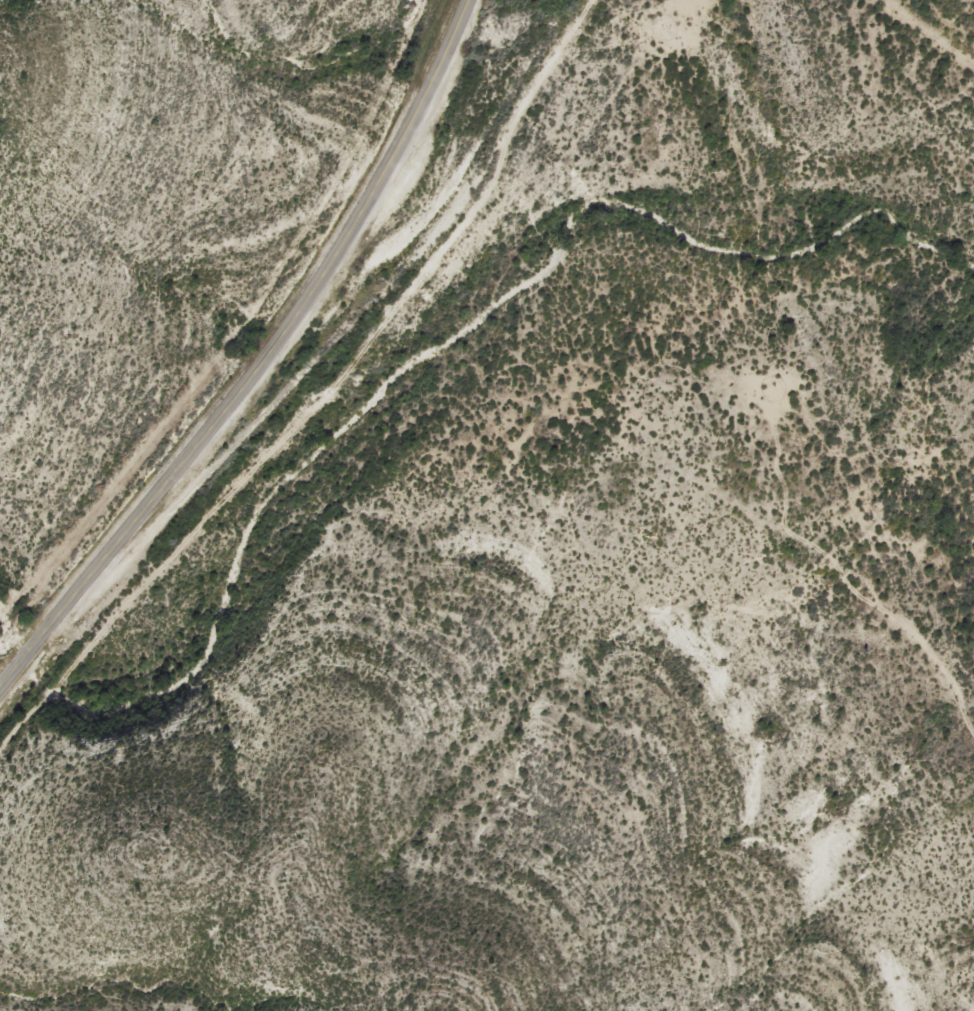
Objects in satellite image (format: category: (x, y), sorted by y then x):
road: (263, 361)

